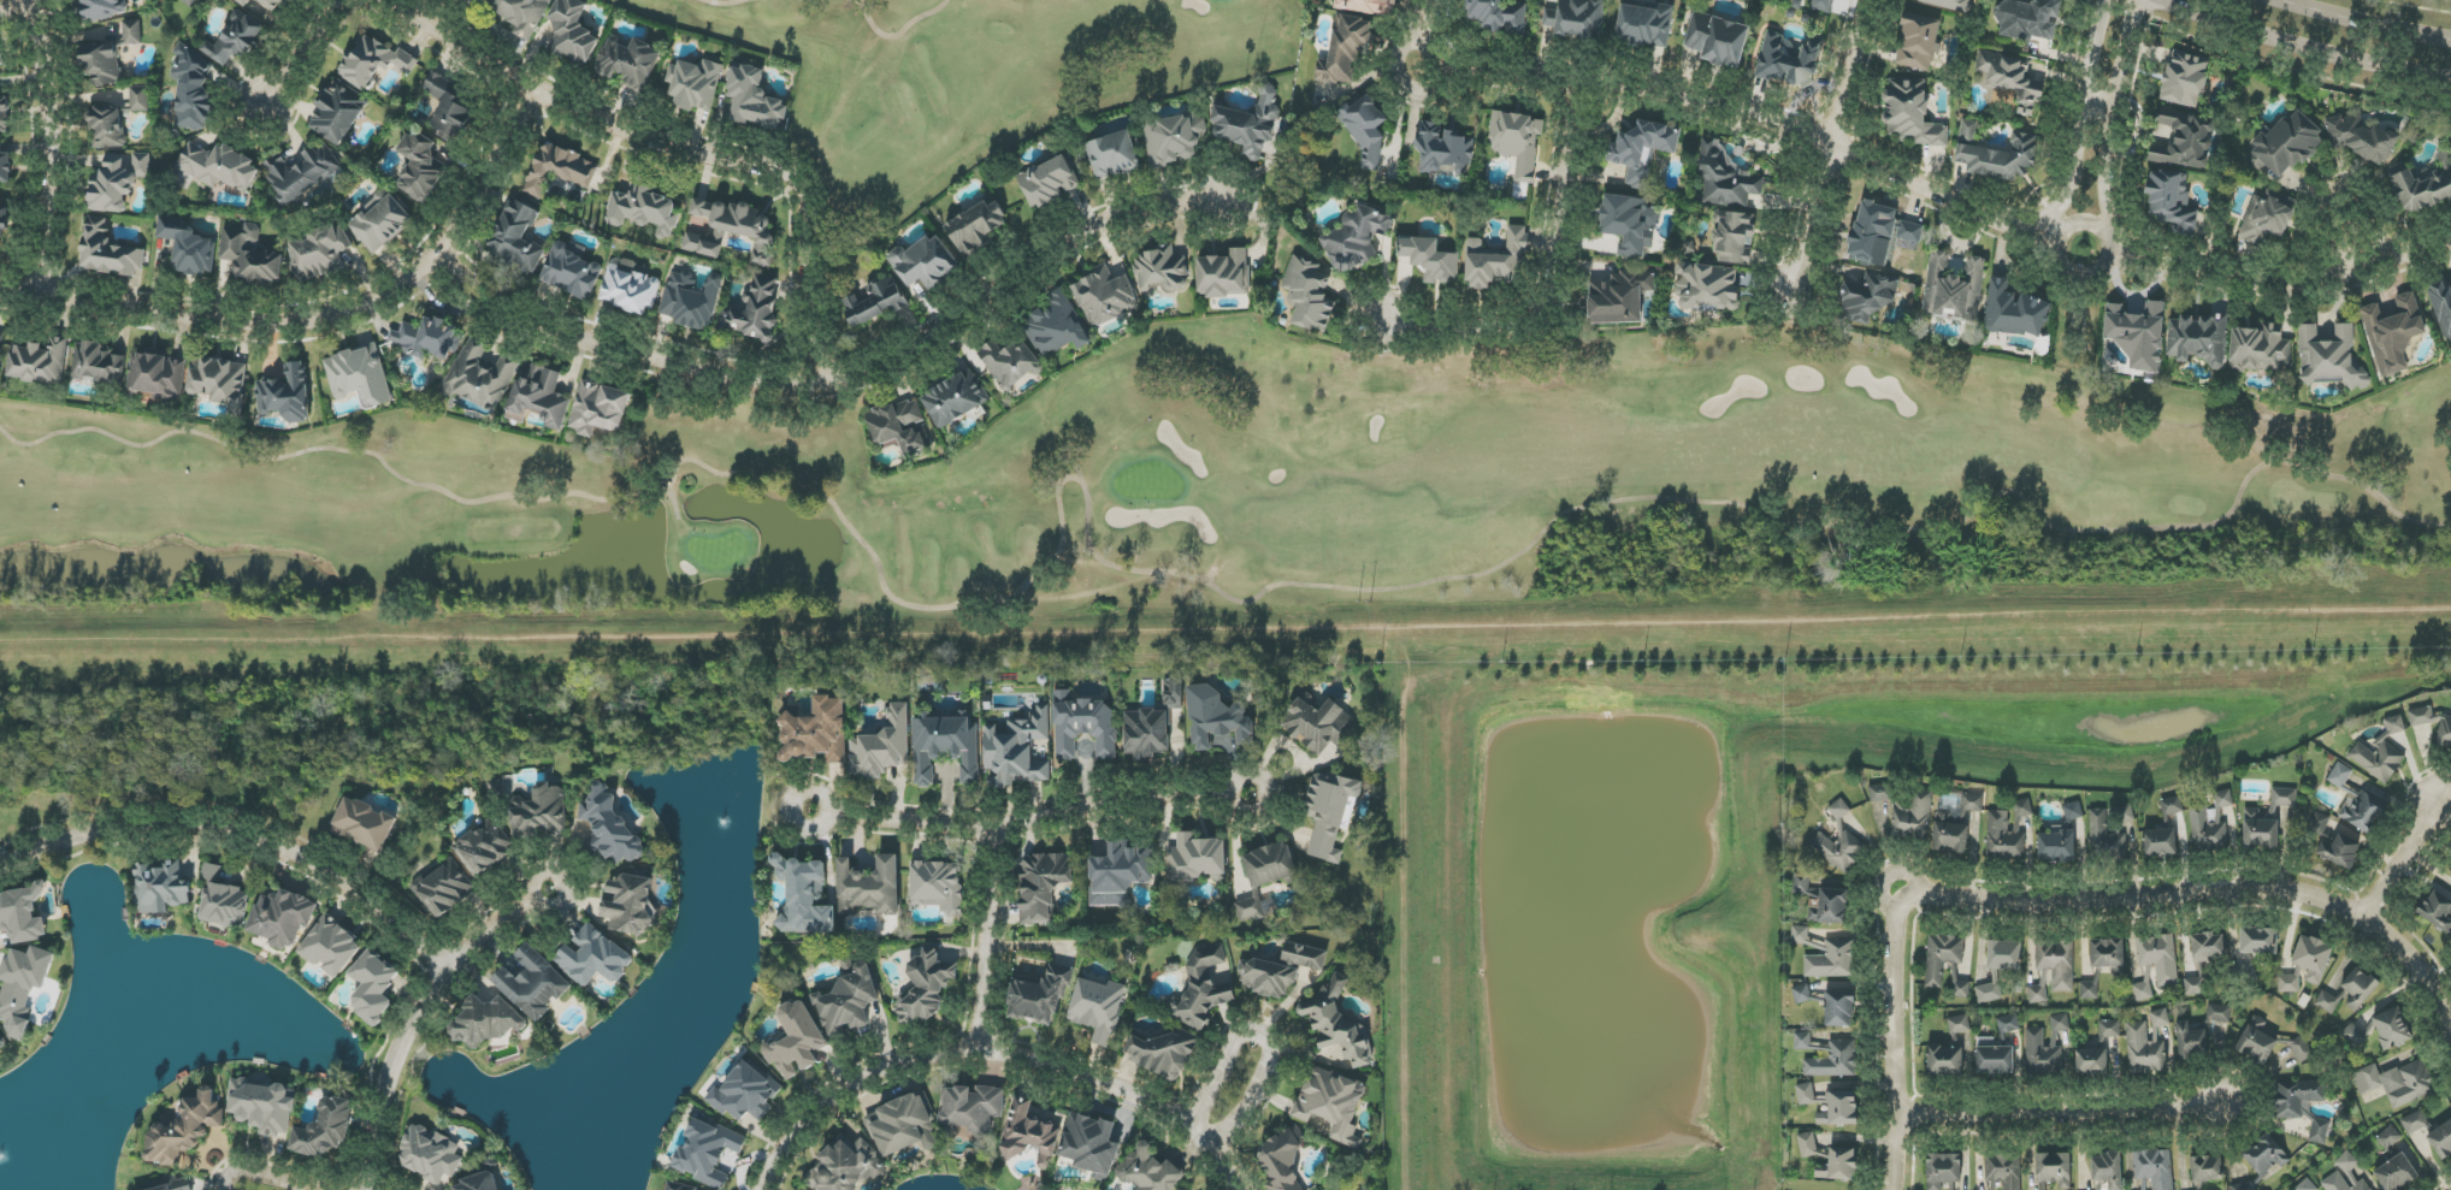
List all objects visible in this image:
building: (243, 1)
building: (476, 1)
building: (190, 2)
building: (1949, 4)
building: (273, 5)
building: (1823, 5)
building: (1366, 6)
building: (102, 8)
building: (521, 14)
building: (1495, 16)
road: (1430, 19)
building: (2027, 19)
building: (1576, 20)
road: (2367, 20)
building: (1644, 25)
building: (131, 31)
building: (573, 34)
building: (1717, 39)
building: (235, 40)
building: (1918, 42)
road: (2310, 43)
building: (1345, 51)
road: (300, 52)
building: (1784, 60)
building: (374, 61)
building: (628, 63)
building: (102, 64)
park: (969, 78)
building: (2185, 79)
building: (2013, 81)
building: (695, 84)
building: (193, 89)
road: (2104, 96)
building: (138, 99)
building: (754, 99)
road: (2118, 105)
building: (449, 106)
road: (2089, 106)
building: (338, 111)
building: (4, 114)
road: (1746, 114)
building: (1912, 114)
building: (1248, 124)
building: (107, 128)
building: (1366, 130)
building: (2361, 137)
building: (1174, 138)
building: (2184, 140)
building: (1517, 142)
building: (2286, 144)
road: (53, 146)
road: (675, 146)
road: (1831, 148)
building: (1445, 149)
building: (1642, 150)
building: (1112, 155)
building: (1996, 155)
building: (219, 166)
building: (5, 167)
building: (419, 167)
building: (560, 170)
building: (302, 173)
building: (1726, 179)
building: (117, 182)
building: (1049, 182)
building: (2423, 188)
building: (2172, 202)
road: (2380, 205)
building: (643, 208)
road: (2109, 217)
building: (2269, 218)
building: (380, 221)
building: (1629, 223)
building: (4, 224)
building: (975, 227)
building: (733, 230)
building: (1871, 231)
building: (1910, 232)
building: (516, 237)
building: (1357, 238)
building: (1735, 238)
building: (188, 247)
building: (108, 251)
building: (319, 251)
building: (250, 255)
road: (2370, 256)
building: (1430, 260)
building: (1496, 261)
building: (925, 262)
building: (1160, 270)
building: (571, 271)
building: (1224, 274)
road: (1551, 277)
road: (2290, 284)
building: (1707, 288)
building: (1954, 289)
building: (628, 290)
building: (1309, 295)
building: (1105, 296)
building: (1620, 296)
building: (1868, 298)
building: (690, 301)
building: (873, 303)
building: (2441, 306)
building: (755, 310)
building: (2015, 312)
road: (319, 318)
building: (1057, 325)
building: (2393, 333)
building: (2138, 334)
building: (427, 338)
building: (2198, 339)
building: (2260, 348)
building: (2328, 356)
building: (40, 361)
building: (98, 363)
building: (1010, 363)
building: (156, 374)
building: (359, 374)
building: (480, 374)
road: (838, 375)
building: (220, 381)
building: (287, 395)
building: (541, 395)
building: (955, 398)
building: (598, 408)
building: (900, 426)
park: (1236, 491)
road: (1083, 629)
building: (1217, 721)
building: (1318, 723)
building: (2394, 724)
building: (2433, 724)
building: (1152, 726)
building: (1086, 728)
building: (816, 732)
building: (881, 746)
building: (946, 747)
building: (1017, 751)
building: (2378, 759)
building: (492, 787)
building: (2356, 801)
road: (1091, 807)
road: (789, 809)
building: (1839, 810)
building: (2171, 810)
building: (1906, 811)
building: (539, 812)
building: (1329, 812)
building: (2267, 821)
building: (364, 824)
building: (2211, 824)
building: (2319, 824)
building: (1956, 825)
building: (608, 827)
building: (2110, 831)
building: (2007, 833)
building: (2063, 837)
road: (238, 839)
building: (2160, 842)
building: (483, 848)
building: (1838, 848)
building: (2339, 851)
building: (1195, 859)
road: (2404, 860)
building: (1270, 865)
building: (1120, 872)
road: (566, 881)
building: (1801, 882)
building: (938, 886)
building: (1043, 886)
building: (869, 887)
building: (160, 888)
building: (445, 889)
road: (2208, 893)
building: (805, 896)
building: (223, 900)
building: (631, 902)
building: (1254, 907)
building: (1830, 907)
building: (2437, 911)
building: (22, 914)
building: (283, 918)
building: (1800, 935)
road: (985, 940)
building: (331, 946)
building: (2208, 947)
building: (2255, 951)
building: (2004, 955)
building: (2108, 955)
building: (595, 957)
building: (2158, 957)
building: (2313, 958)
building: (1832, 960)
building: (1947, 966)
building: (1282, 970)
building: (2053, 970)
building: (2288, 982)
building: (533, 983)
building: (1205, 984)
building: (2145, 985)
building: (23, 987)
building: (373, 987)
building: (928, 987)
building: (2195, 987)
building: (2358, 987)
building: (2089, 990)
building: (1801, 993)
building: (1989, 993)
building: (1040, 996)
building: (849, 1002)
building: (2327, 1002)
building: (1098, 1008)
building: (1839, 1008)
building: (2219, 1013)
building: (2160, 1018)
building: (485, 1023)
building: (2060, 1023)
road: (415, 1024)
building: (1337, 1024)
building: (1959, 1024)
building: (2008, 1024)
building: (2391, 1028)
building: (2109, 1029)
building: (2352, 1036)
road: (1263, 1037)
building: (2191, 1040)
building: (796, 1041)
building: (2256, 1041)
road: (1896, 1043)
building: (2143, 1048)
building: (2301, 1048)
building: (1163, 1053)
building: (2043, 1053)
building: (1842, 1054)
building: (1947, 1058)
building: (1994, 1058)
building: (2092, 1061)
building: (2397, 1083)
road: (846, 1088)
road: (1122, 1090)
building: (745, 1093)
building: (1806, 1094)
building: (2296, 1097)
building: (1331, 1103)
building: (264, 1106)
building: (971, 1107)
building: (1839, 1109)
road: (2062, 1112)
building: (2415, 1123)
building: (904, 1125)
building: (185, 1129)
building: (325, 1130)
building: (2319, 1131)
building: (1030, 1133)
building: (2388, 1138)
building: (2441, 1141)
building: (1807, 1144)
building: (1091, 1145)
building: (707, 1151)
building: (430, 1154)
building: (2266, 1155)
building: (1282, 1160)
building: (1842, 1162)
building: (846, 1166)
building: (2054, 1168)
building: (2155, 1168)
building: (2207, 1168)
building: (1943, 1170)
building: (2004, 1170)
building: (2107, 1170)
building: (1150, 1171)
building: (2396, 1173)
road: (266, 1176)
building: (2345, 1176)
building: (480, 1183)
building: (171, 1184)
building: (2305, 1185)
building: (2197, 1186)
building: (2244, 1186)
building: (679, 1188)

